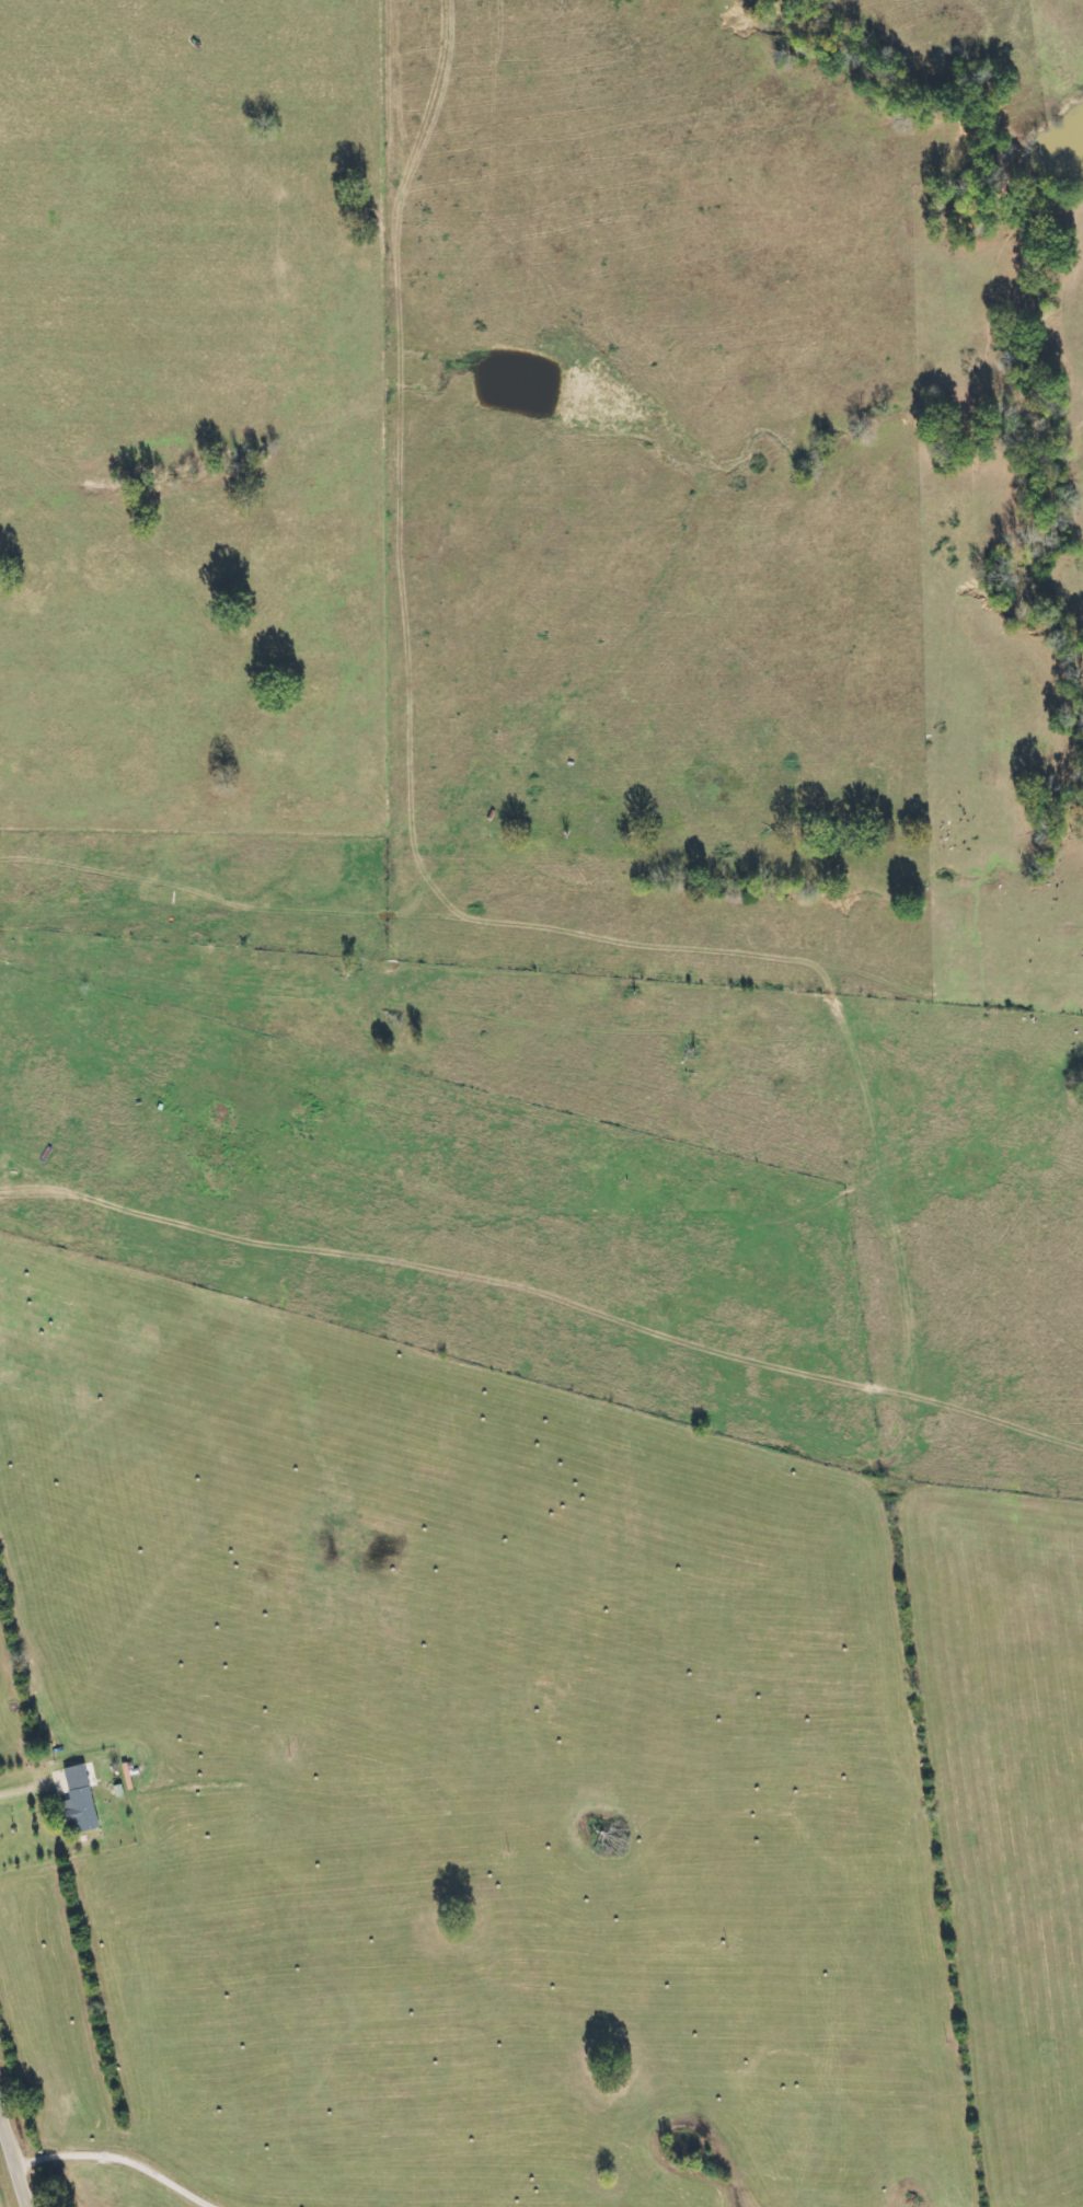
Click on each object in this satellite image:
building: (79, 1801)
road: (15, 2152)

